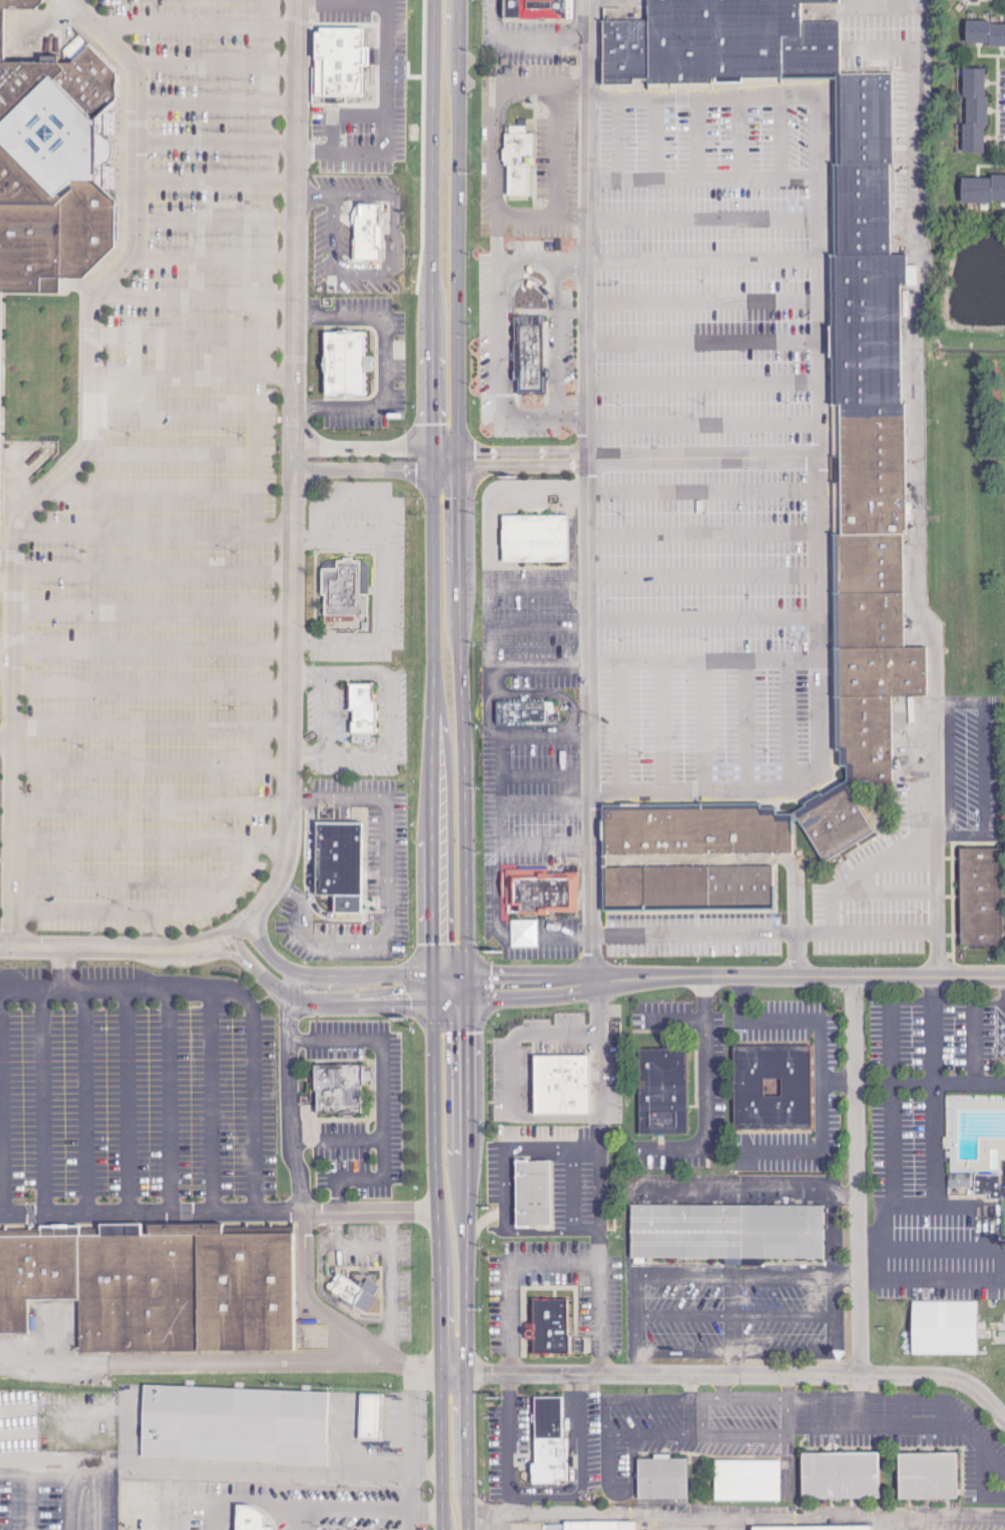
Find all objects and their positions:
road: (319, 2)
building: (538, 11)
building: (795, 15)
road: (195, 26)
building: (984, 35)
building: (715, 41)
building: (813, 51)
building: (624, 53)
building: (340, 59)
road: (212, 64)
road: (214, 103)
building: (974, 112)
building: (864, 119)
road: (388, 121)
road: (214, 141)
road: (786, 144)
road: (625, 145)
road: (662, 145)
road: (701, 145)
road: (744, 145)
building: (517, 166)
building: (51, 168)
road: (214, 181)
road: (704, 183)
building: (982, 191)
road: (315, 197)
building: (862, 210)
road: (214, 220)
road: (704, 228)
building: (368, 232)
road: (211, 258)
road: (394, 261)
road: (704, 265)
road: (193, 296)
road: (704, 304)
building: (867, 329)
road: (192, 336)
road: (704, 347)
building: (529, 353)
building: (344, 363)
road: (192, 375)
road: (705, 388)
road: (175, 414)
road: (705, 432)
parking lot: (642, 442)
road: (823, 444)
road: (379, 447)
traffic signals: (432, 449)
road: (171, 452)
road: (256, 453)
road: (75, 461)
traffic signals: (460, 461)
road: (641, 463)
road: (295, 466)
road: (377, 469)
building: (873, 470)
road: (151, 491)
road: (432, 493)
road: (706, 500)
parking lot: (168, 521)
road: (152, 530)
building: (535, 539)
road: (706, 540)
building: (869, 564)
road: (151, 568)
road: (707, 581)
road: (379, 588)
building: (343, 599)
road: (151, 608)
building: (870, 620)
road: (707, 626)
road: (151, 649)
road: (707, 664)
building: (882, 671)
road: (305, 672)
road: (462, 687)
road: (150, 688)
road: (590, 688)
building: (361, 705)
road: (481, 708)
building: (523, 711)
road: (322, 713)
road: (388, 713)
road: (150, 726)
road: (748, 730)
road: (793, 730)
road: (665, 731)
road: (706, 731)
road: (622, 732)
building: (865, 736)
road: (6, 742)
road: (306, 754)
road: (150, 765)
road: (524, 780)
road: (340, 794)
road: (150, 804)
building: (834, 821)
building: (695, 829)
road: (149, 843)
building: (342, 876)
road: (122, 882)
building: (688, 887)
building: (544, 890)
building: (980, 896)
road: (147, 911)
road: (708, 935)
road: (875, 935)
road: (227, 938)
road: (376, 943)
road: (242, 949)
road: (101, 950)
road: (228, 954)
road: (271, 957)
road: (61, 972)
road: (718, 977)
road: (273, 984)
traffic signals: (433, 988)
traffic signals: (470, 988)
road: (328, 989)
road: (394, 989)
road: (231, 996)
road: (509, 1039)
road: (977, 1041)
road: (823, 1065)
road: (840, 1079)
road: (896, 1080)
road: (970, 1080)
building: (560, 1085)
road: (698, 1087)
building: (772, 1087)
building: (339, 1089)
building: (662, 1092)
parking lot: (137, 1093)
road: (131, 1104)
road: (49, 1105)
road: (91, 1105)
road: (170, 1105)
road: (5, 1106)
road: (219, 1106)
road: (384, 1107)
road: (554, 1121)
road: (340, 1140)
road: (506, 1150)
building: (973, 1150)
road: (857, 1177)
building: (534, 1193)
road: (927, 1205)
road: (218, 1216)
road: (480, 1219)
road: (883, 1220)
road: (306, 1223)
road: (822, 1223)
building: (726, 1232)
road: (549, 1238)
road: (963, 1251)
road: (438, 1258)
building: (35, 1276)
road: (501, 1277)
road: (673, 1279)
road: (872, 1282)
building: (138, 1291)
building: (247, 1291)
building: (355, 1291)
building: (551, 1325)
road: (623, 1326)
road: (722, 1327)
building: (952, 1333)
road: (453, 1375)
road: (744, 1375)
road: (713, 1385)
road: (683, 1404)
building: (370, 1416)
building: (234, 1424)
road: (412, 1431)
road: (609, 1434)
building: (548, 1440)
road: (498, 1443)
road: (468, 1452)
road: (348, 1464)
road: (571, 1467)
building: (745, 1477)
building: (839, 1477)
building: (927, 1477)
building: (662, 1479)
road: (284, 1501)
road: (405, 1506)
road: (737, 1513)
building: (249, 1519)
road: (405, 1520)
road: (885, 1522)
building: (599, 1526)
building: (818, 1528)
parking lot: (944, 1528)

